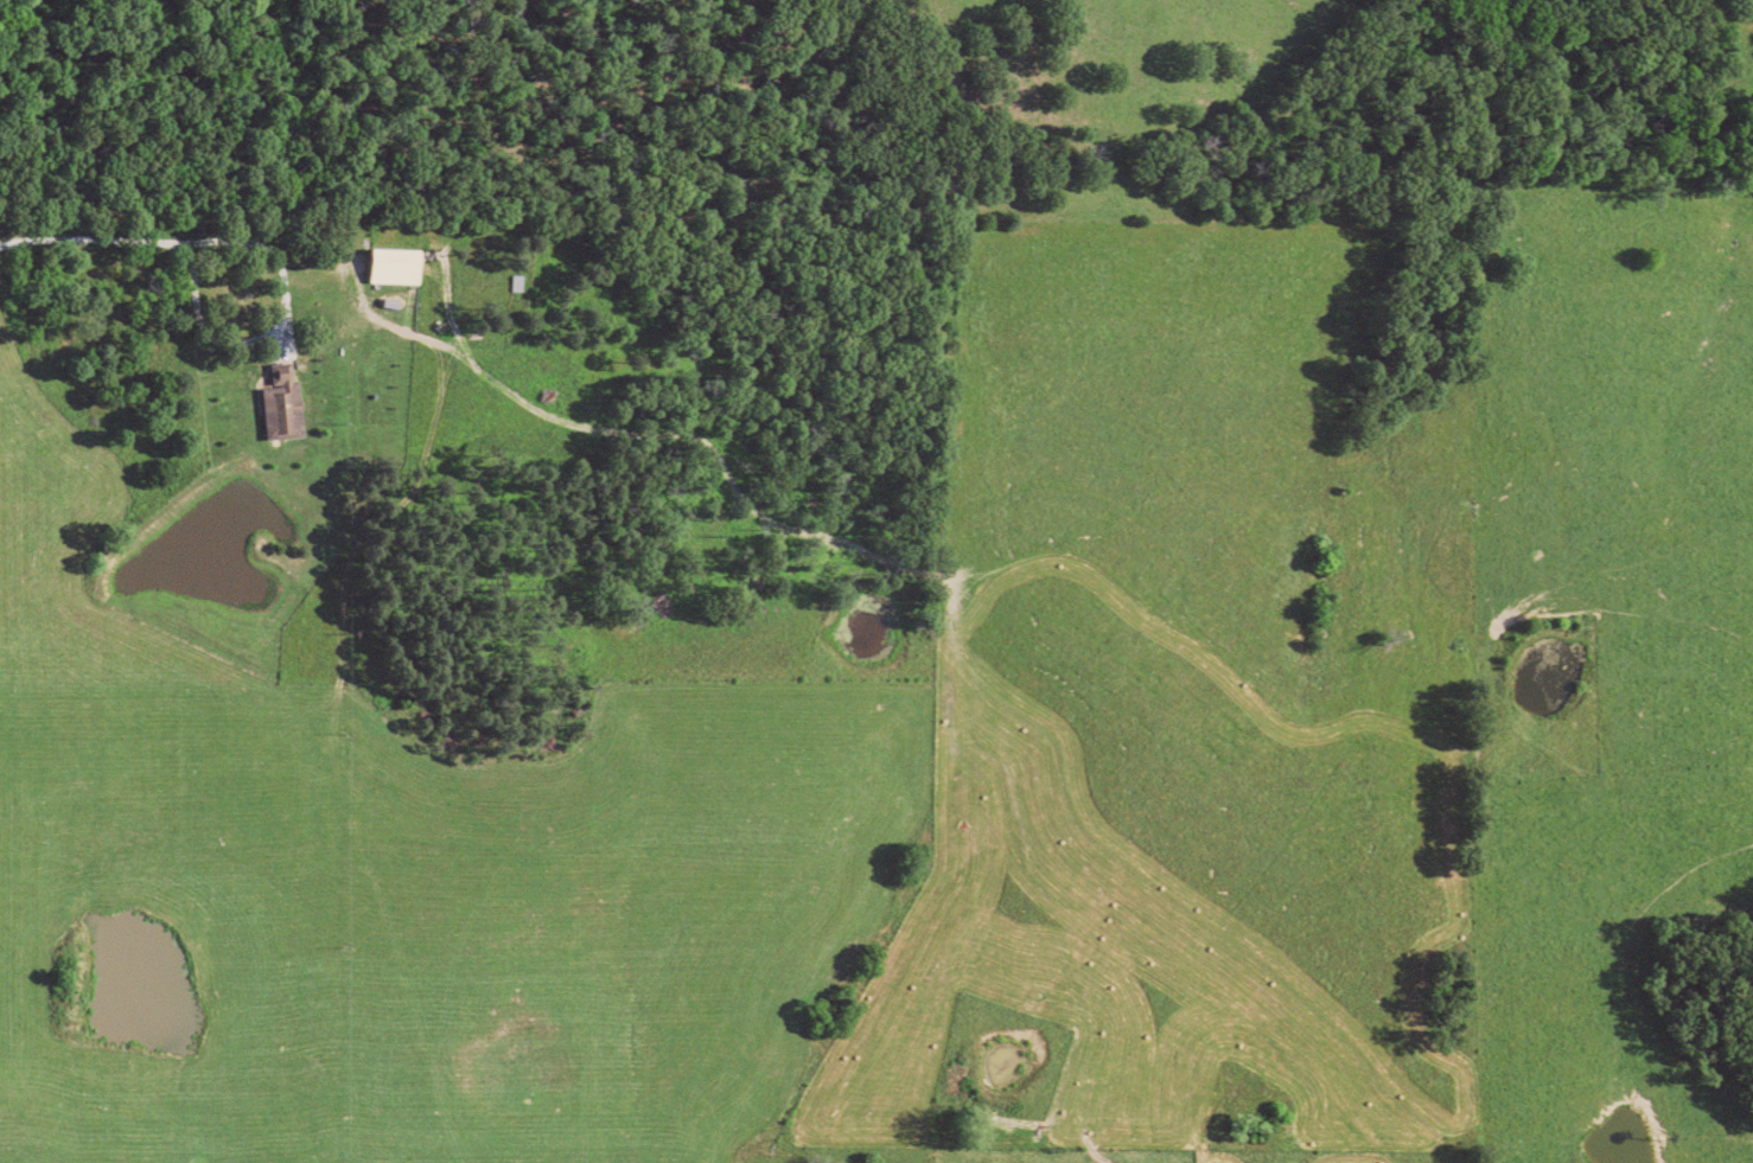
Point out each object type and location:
building: (403, 264)
building: (291, 401)

